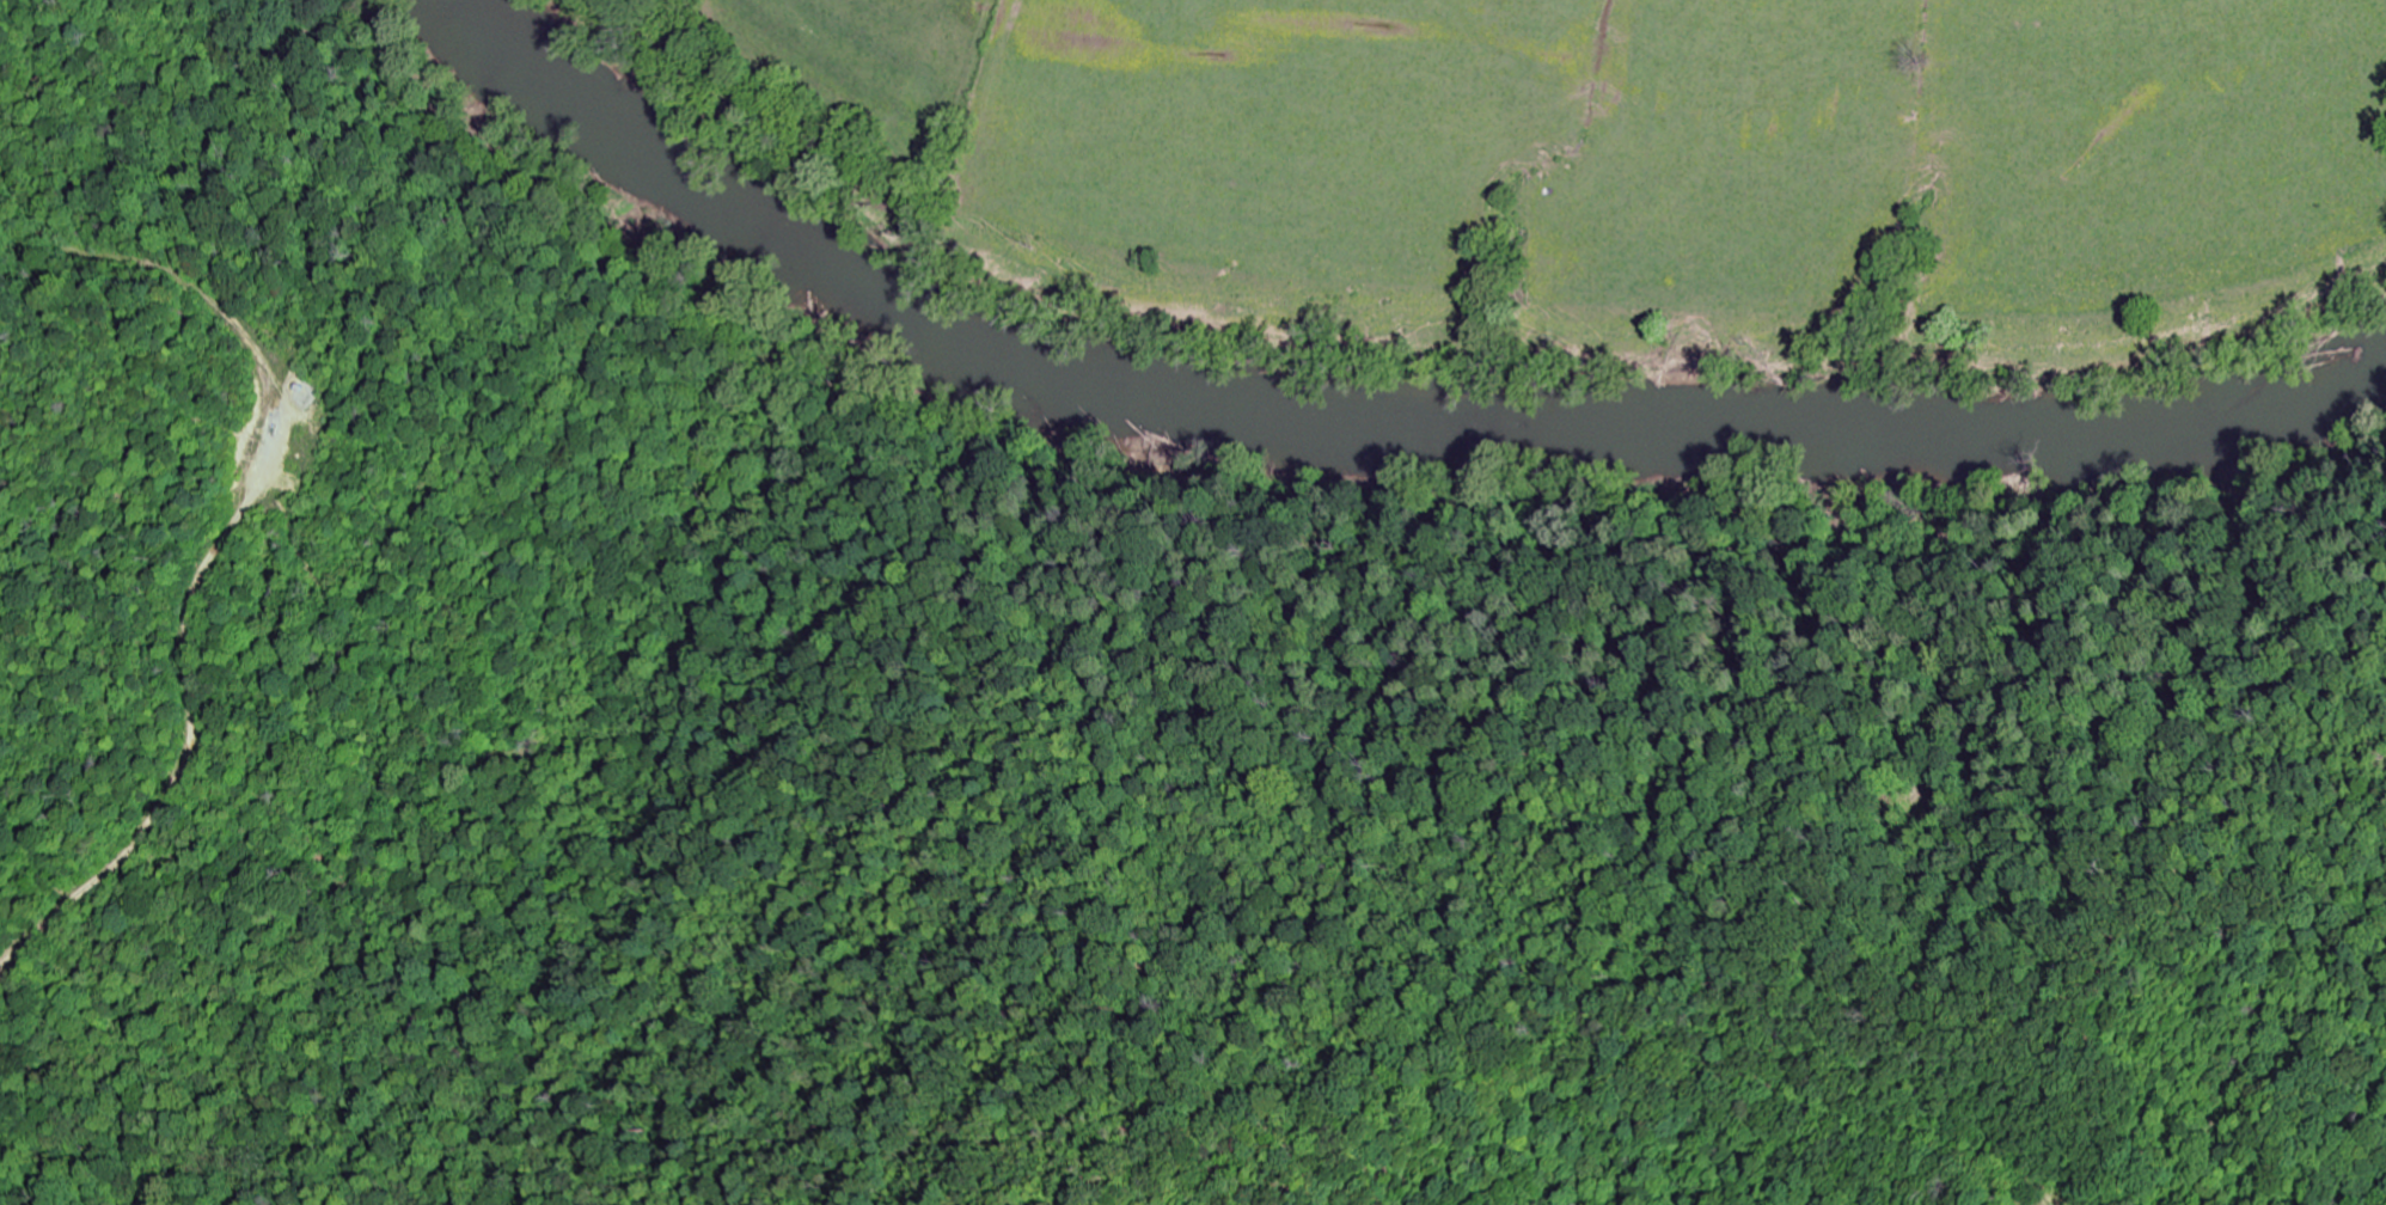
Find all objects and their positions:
river: (1376, 415)

